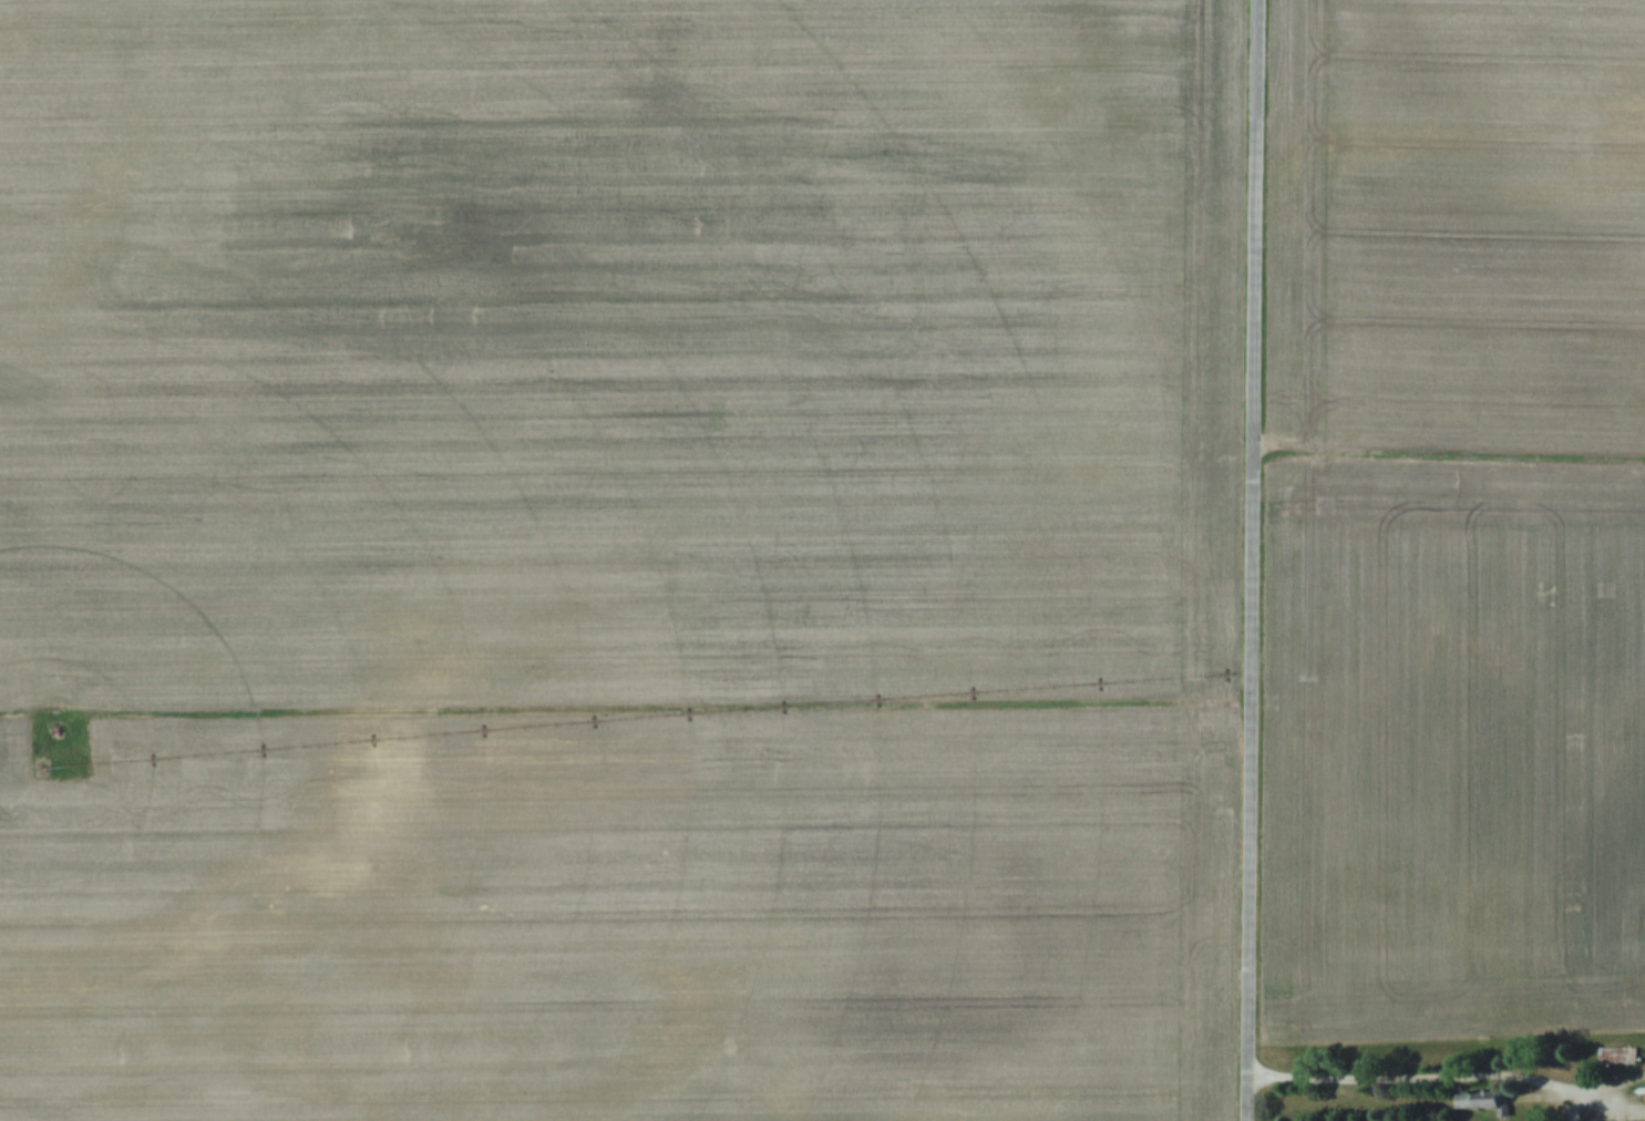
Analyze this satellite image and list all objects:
road: (1243, 560)
building: (1618, 1055)
building: (1484, 1099)

